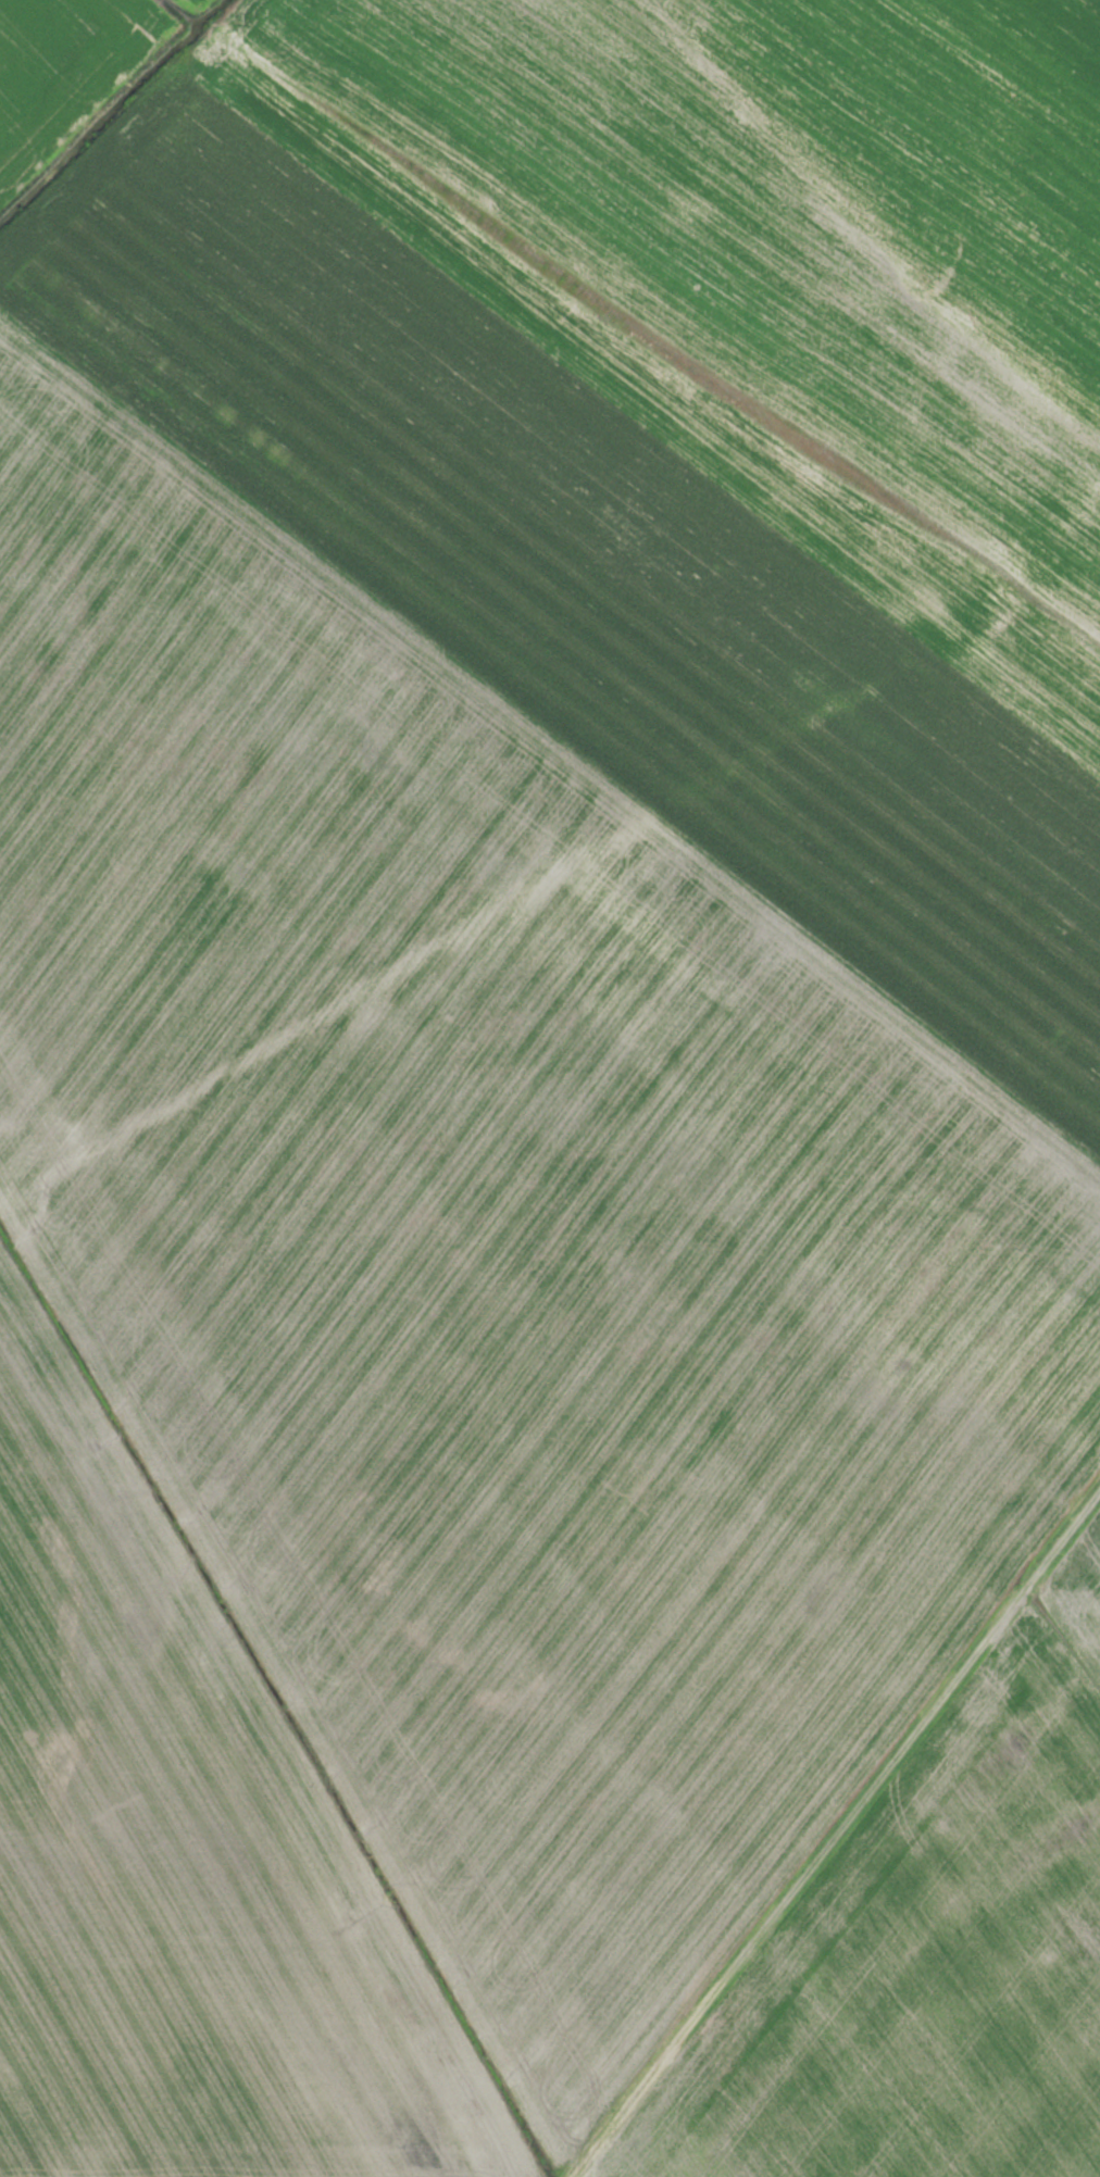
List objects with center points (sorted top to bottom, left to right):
road: (828, 1830)

